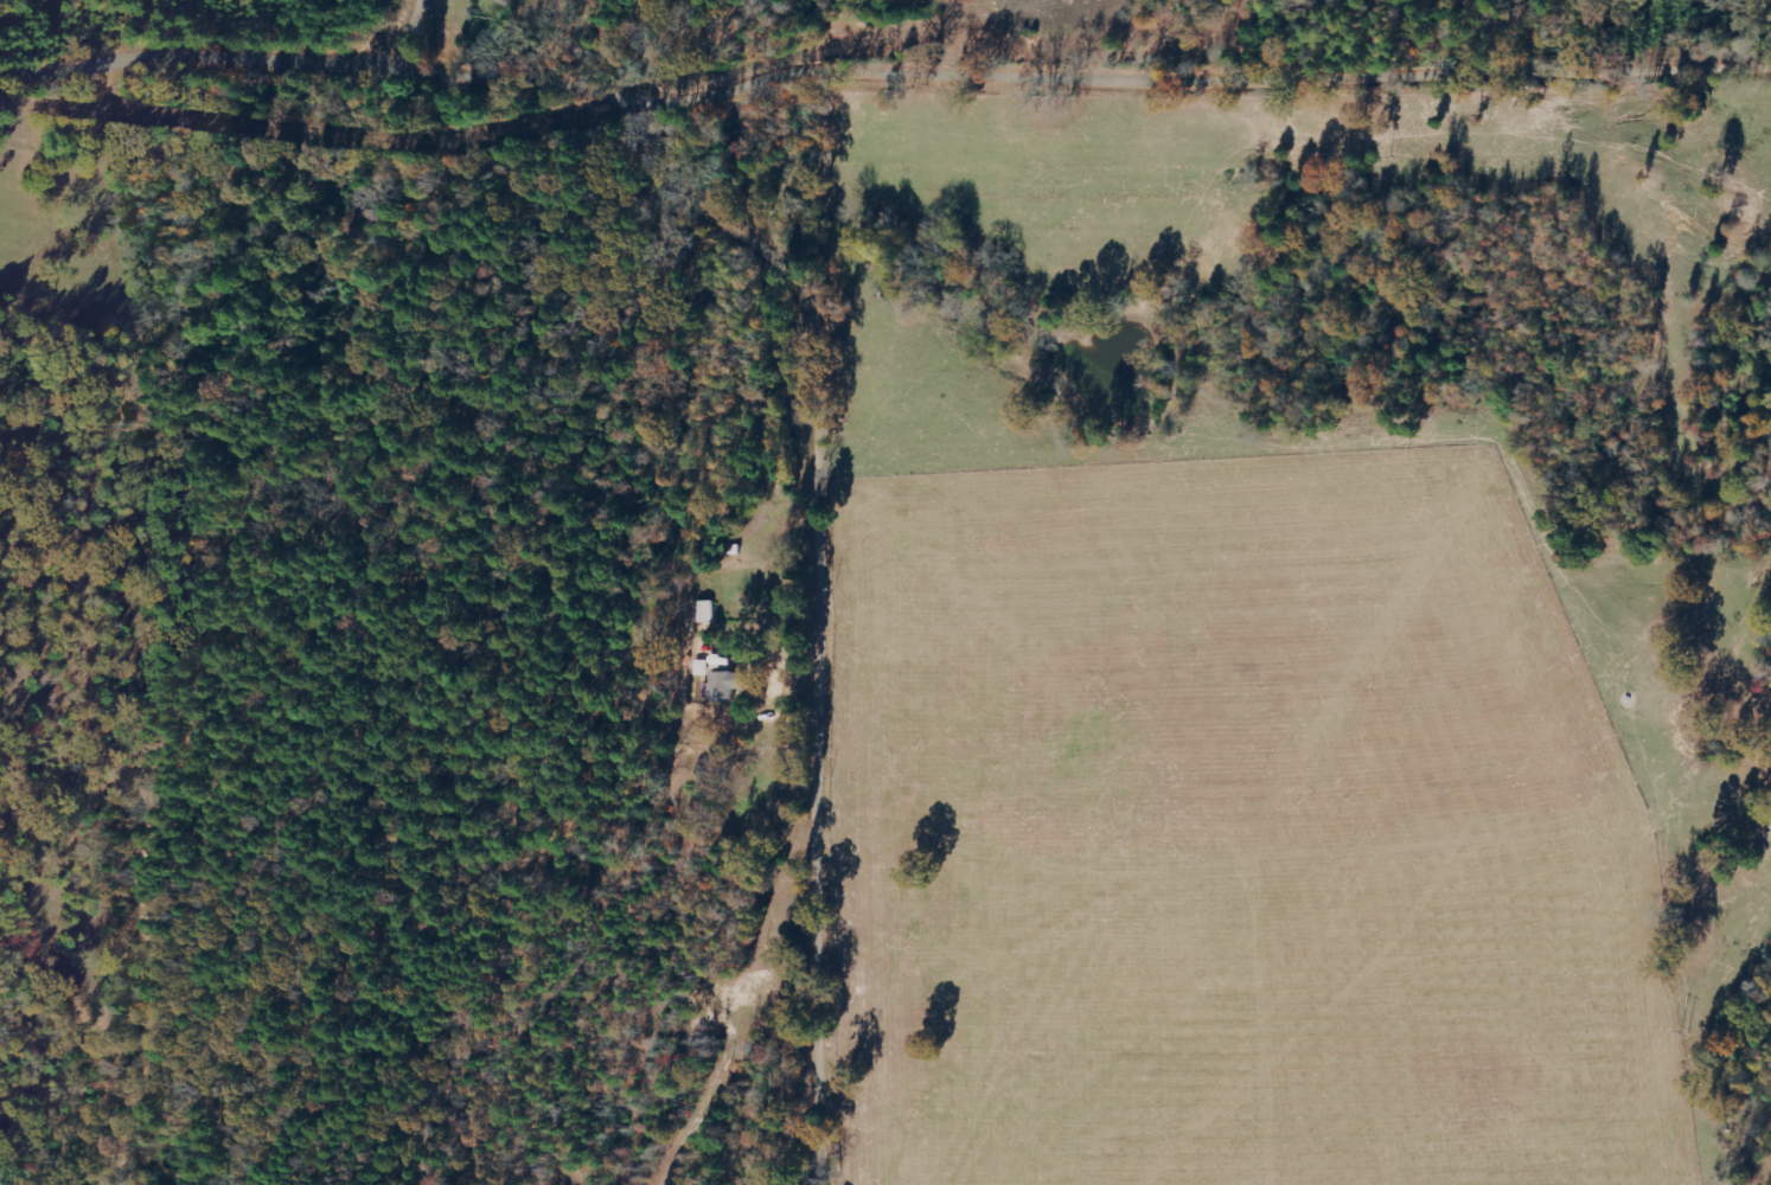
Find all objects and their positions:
road: (344, 33)
road: (391, 43)
road: (170, 58)
road: (1189, 81)
road: (478, 84)
road: (829, 595)
building: (707, 613)
building: (702, 668)
building: (725, 687)
power tower: (1680, 1037)

